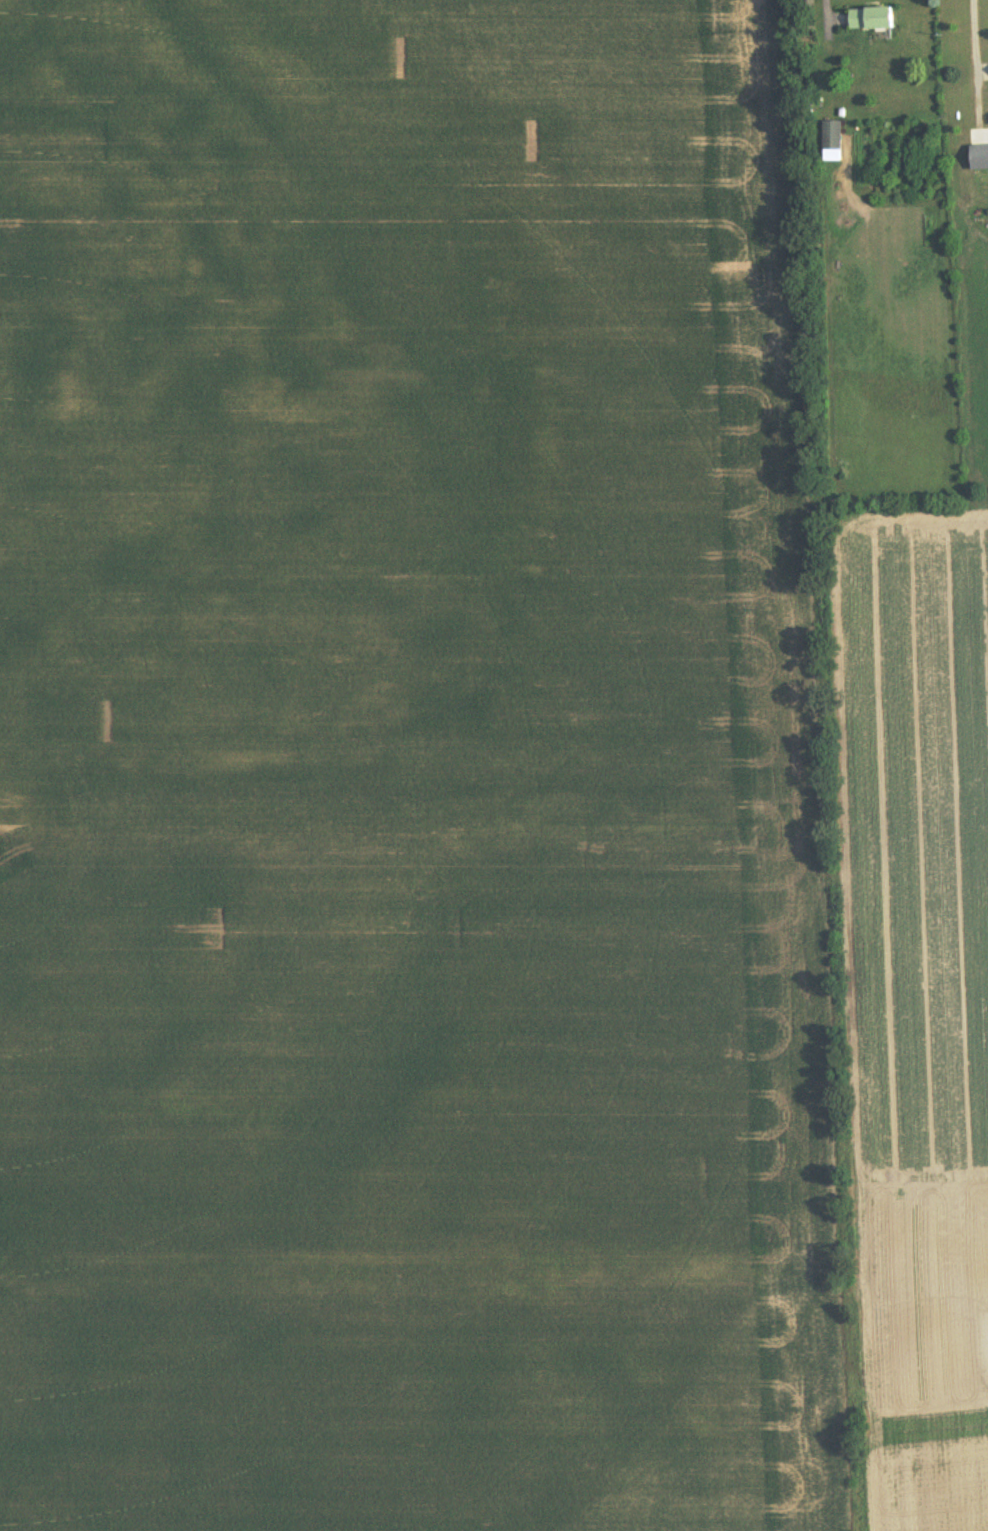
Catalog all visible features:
road: (823, 3)
building: (871, 19)
road: (975, 37)
building: (832, 142)
building: (979, 158)

